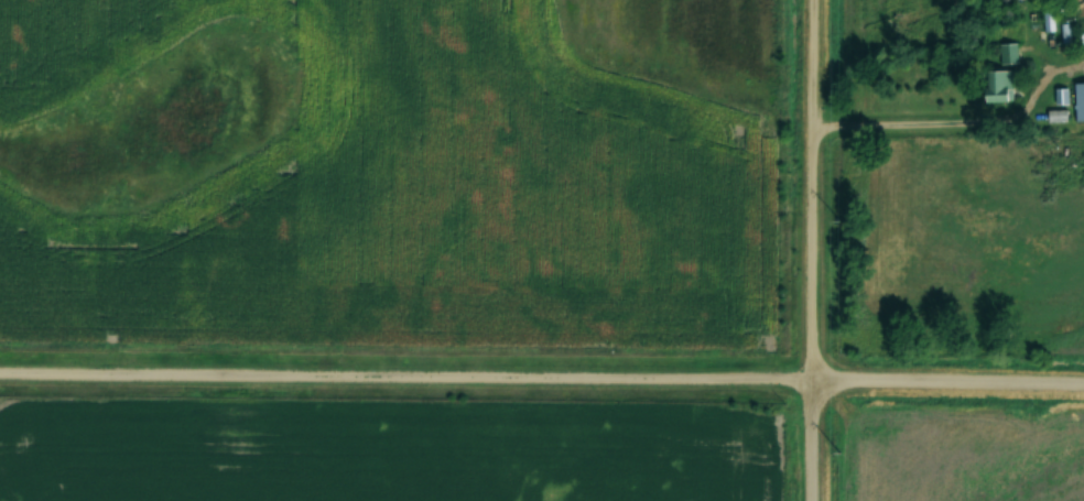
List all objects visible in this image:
building: (1009, 53)
building: (996, 86)
building: (1078, 101)
road: (945, 123)
road: (813, 250)
road: (541, 375)
crop: (962, 456)

